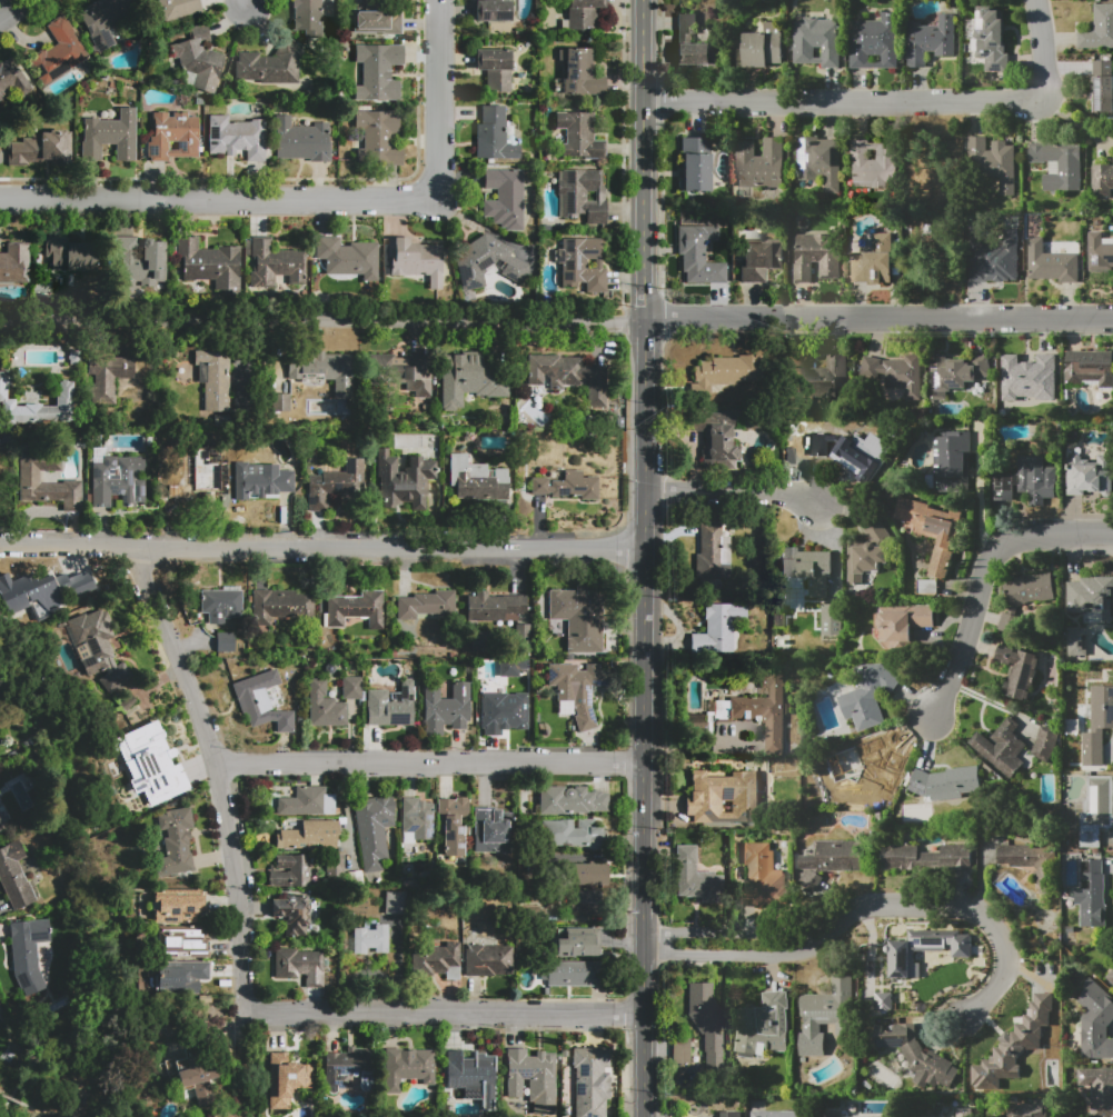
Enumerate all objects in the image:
road: (244, 3)
road: (11, 9)
building: (178, 9)
building: (493, 11)
building: (583, 13)
building: (307, 17)
building: (106, 21)
building: (378, 22)
building: (1099, 29)
building: (991, 38)
building: (931, 40)
building: (817, 41)
building: (874, 41)
building: (693, 43)
building: (763, 47)
building: (58, 51)
building: (199, 58)
building: (271, 63)
building: (495, 68)
building: (377, 71)
building: (14, 77)
building: (578, 78)
building: (1103, 87)
road: (437, 99)
road: (897, 103)
building: (494, 134)
building: (172, 136)
building: (579, 136)
building: (111, 137)
building: (237, 138)
building: (378, 138)
building: (302, 140)
building: (41, 148)
building: (828, 161)
building: (993, 161)
building: (695, 163)
building: (761, 163)
building: (874, 163)
building: (1060, 164)
building: (1102, 180)
building: (583, 195)
road: (217, 198)
building: (506, 198)
building: (1099, 252)
building: (699, 256)
building: (72, 257)
building: (347, 257)
building: (815, 257)
building: (993, 258)
building: (143, 259)
building: (416, 259)
building: (759, 259)
building: (874, 260)
building: (277, 261)
building: (468, 261)
building: (1052, 261)
building: (14, 263)
building: (208, 263)
building: (584, 267)
road: (557, 326)
building: (1090, 369)
building: (325, 371)
building: (403, 371)
building: (726, 371)
building: (108, 375)
building: (572, 375)
building: (950, 376)
building: (895, 377)
building: (215, 378)
building: (824, 378)
building: (1028, 378)
building: (470, 379)
building: (279, 401)
building: (47, 410)
building: (2, 423)
building: (718, 448)
building: (841, 452)
building: (951, 460)
building: (1090, 476)
building: (1027, 478)
building: (195, 479)
building: (117, 480)
building: (401, 480)
building: (478, 480)
building: (48, 483)
building: (266, 486)
building: (336, 486)
building: (566, 486)
road: (736, 489)
building: (931, 530)
road: (324, 547)
building: (708, 552)
road: (647, 558)
building: (864, 561)
building: (805, 570)
road: (986, 576)
building: (926, 588)
building: (1091, 596)
building: (1016, 601)
building: (221, 605)
building: (426, 605)
building: (280, 606)
building: (21, 607)
building: (496, 608)
building: (356, 609)
building: (579, 617)
building: (831, 619)
building: (900, 625)
building: (717, 628)
building: (521, 634)
building: (226, 641)
building: (1075, 641)
building: (1081, 651)
building: (101, 656)
building: (511, 667)
building: (1017, 671)
building: (351, 688)
building: (576, 690)
building: (867, 696)
building: (261, 701)
building: (129, 706)
building: (324, 706)
building: (390, 706)
building: (445, 707)
building: (503, 709)
building: (748, 711)
building: (1096, 727)
building: (1045, 742)
building: (1002, 747)
building: (158, 752)
road: (434, 760)
building: (867, 770)
road: (225, 771)
building: (946, 782)
building: (724, 798)
building: (570, 800)
building: (304, 801)
building: (1096, 810)
building: (415, 822)
building: (453, 824)
building: (1, 827)
building: (374, 829)
building: (493, 830)
building: (311, 835)
building: (574, 835)
building: (178, 840)
building: (833, 856)
building: (926, 857)
building: (1030, 861)
building: (335, 866)
building: (290, 870)
building: (590, 874)
building: (695, 876)
building: (763, 877)
building: (16, 878)
building: (1087, 895)
building: (395, 902)
building: (583, 904)
road: (973, 906)
building: (179, 907)
building: (291, 915)
road: (735, 930)
building: (370, 940)
building: (577, 943)
building: (183, 944)
road: (742, 950)
building: (904, 956)
building: (27, 959)
building: (437, 959)
building: (488, 960)
building: (298, 964)
building: (573, 974)
building: (1110, 977)
building: (182, 979)
building: (882, 1000)
road: (445, 1013)
building: (825, 1014)
building: (706, 1021)
building: (1095, 1021)
building: (762, 1026)
building: (680, 1049)
building: (916, 1055)
building: (997, 1066)
building: (349, 1067)
building: (407, 1067)
building: (468, 1074)
building: (196, 1076)
building: (288, 1078)
building: (590, 1081)
building: (530, 1084)
building: (1097, 1089)
building: (964, 1113)
building: (1014, 1113)
building: (729, 1114)
building: (783, 1114)
building: (833, 1114)

